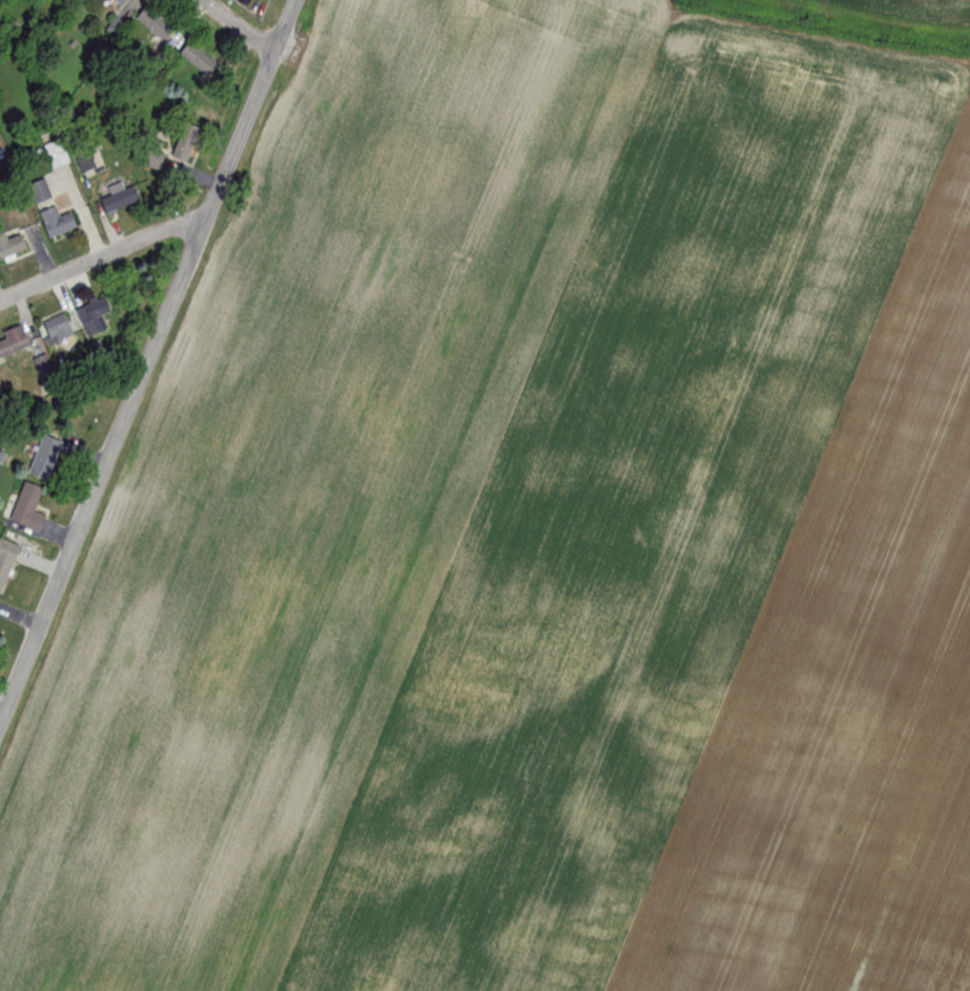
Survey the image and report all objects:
building: (120, 2)
building: (154, 24)
road: (238, 25)
building: (115, 28)
building: (198, 59)
building: (185, 143)
building: (56, 154)
building: (85, 163)
building: (40, 190)
building: (119, 197)
building: (56, 221)
building: (10, 245)
road: (101, 257)
building: (94, 316)
building: (57, 328)
building: (13, 342)
road: (145, 355)
building: (45, 458)
building: (28, 508)
building: (6, 561)

